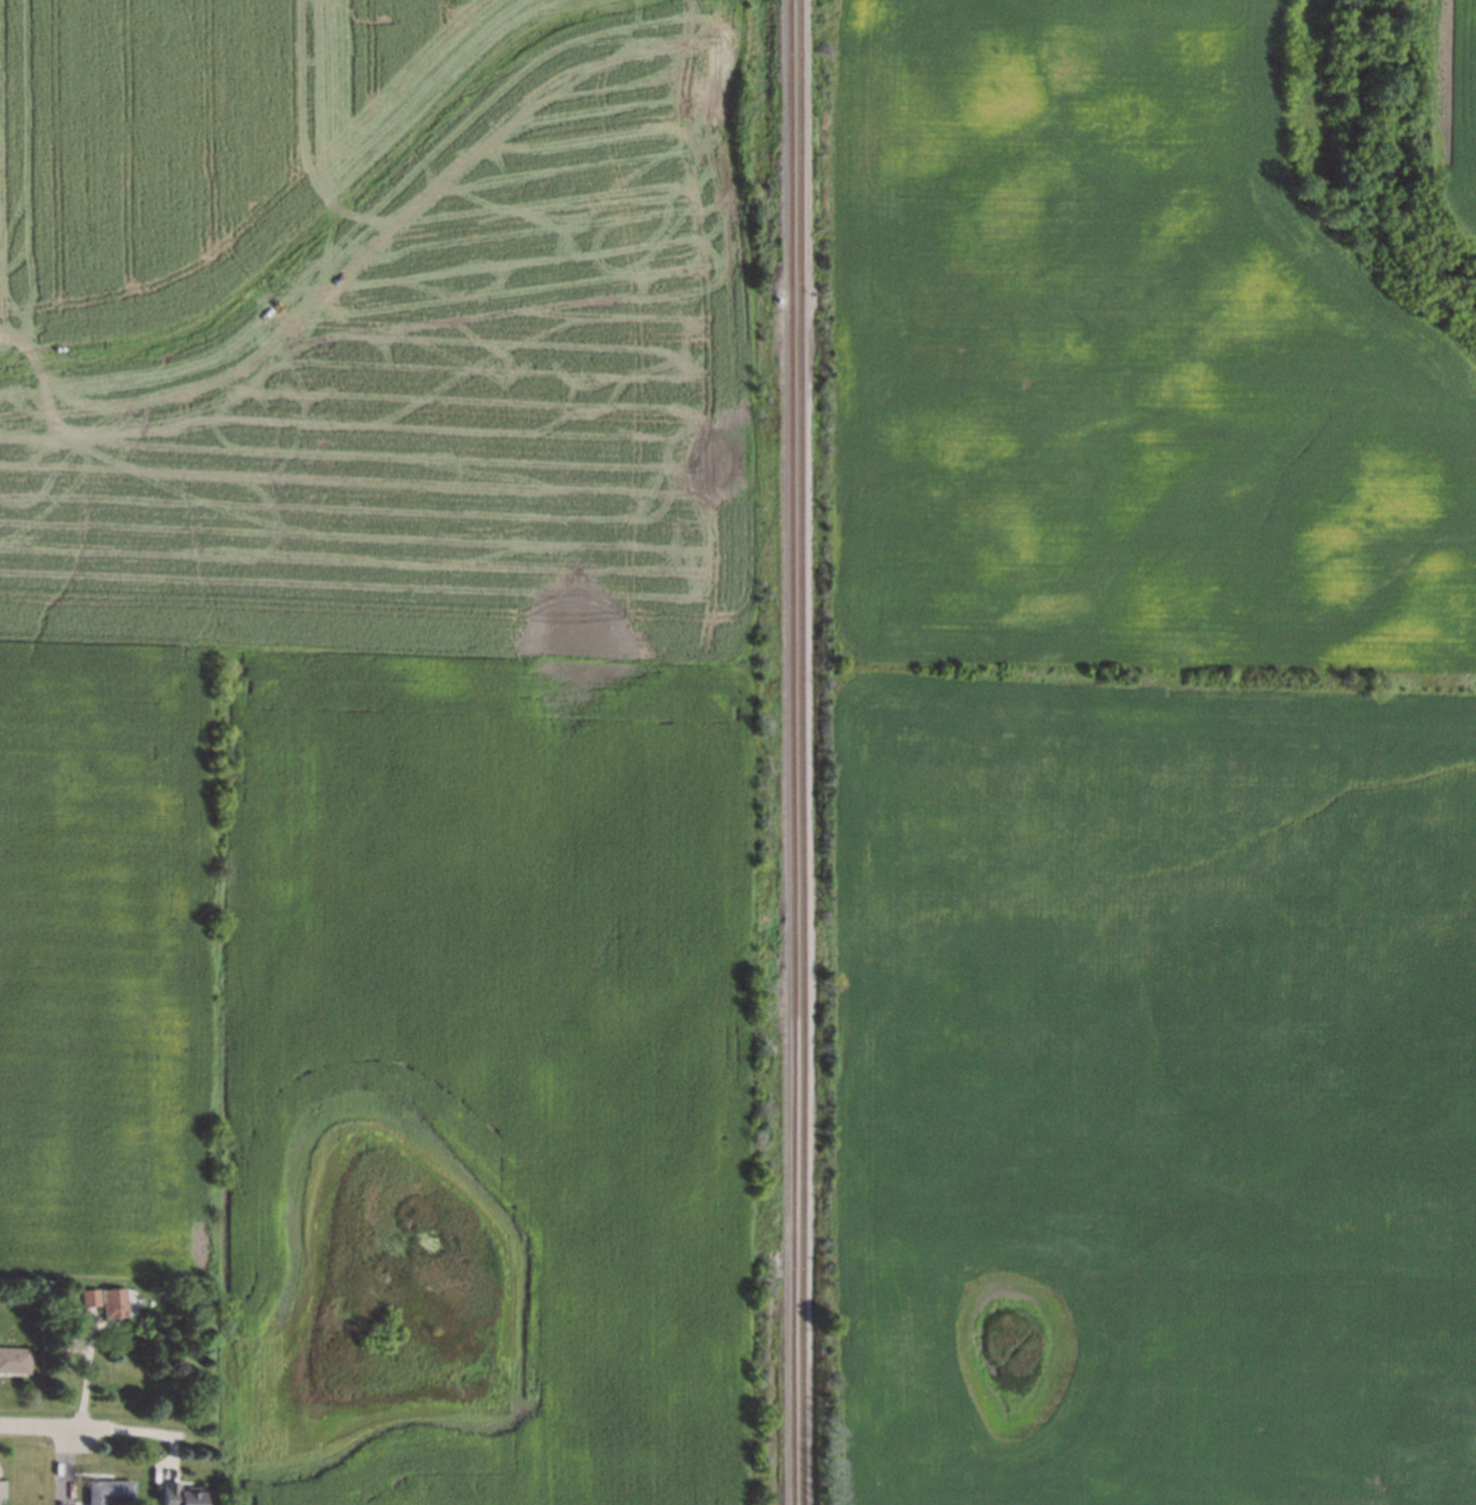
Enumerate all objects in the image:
crop: (1459, 109)
crop: (198, 147)
railway: (790, 752)
railway: (800, 752)
building: (85, 1295)
building: (110, 1300)
building: (12, 1358)
road: (85, 1372)
road: (84, 1425)
building: (103, 1490)
building: (1, 1492)
building: (176, 1494)

